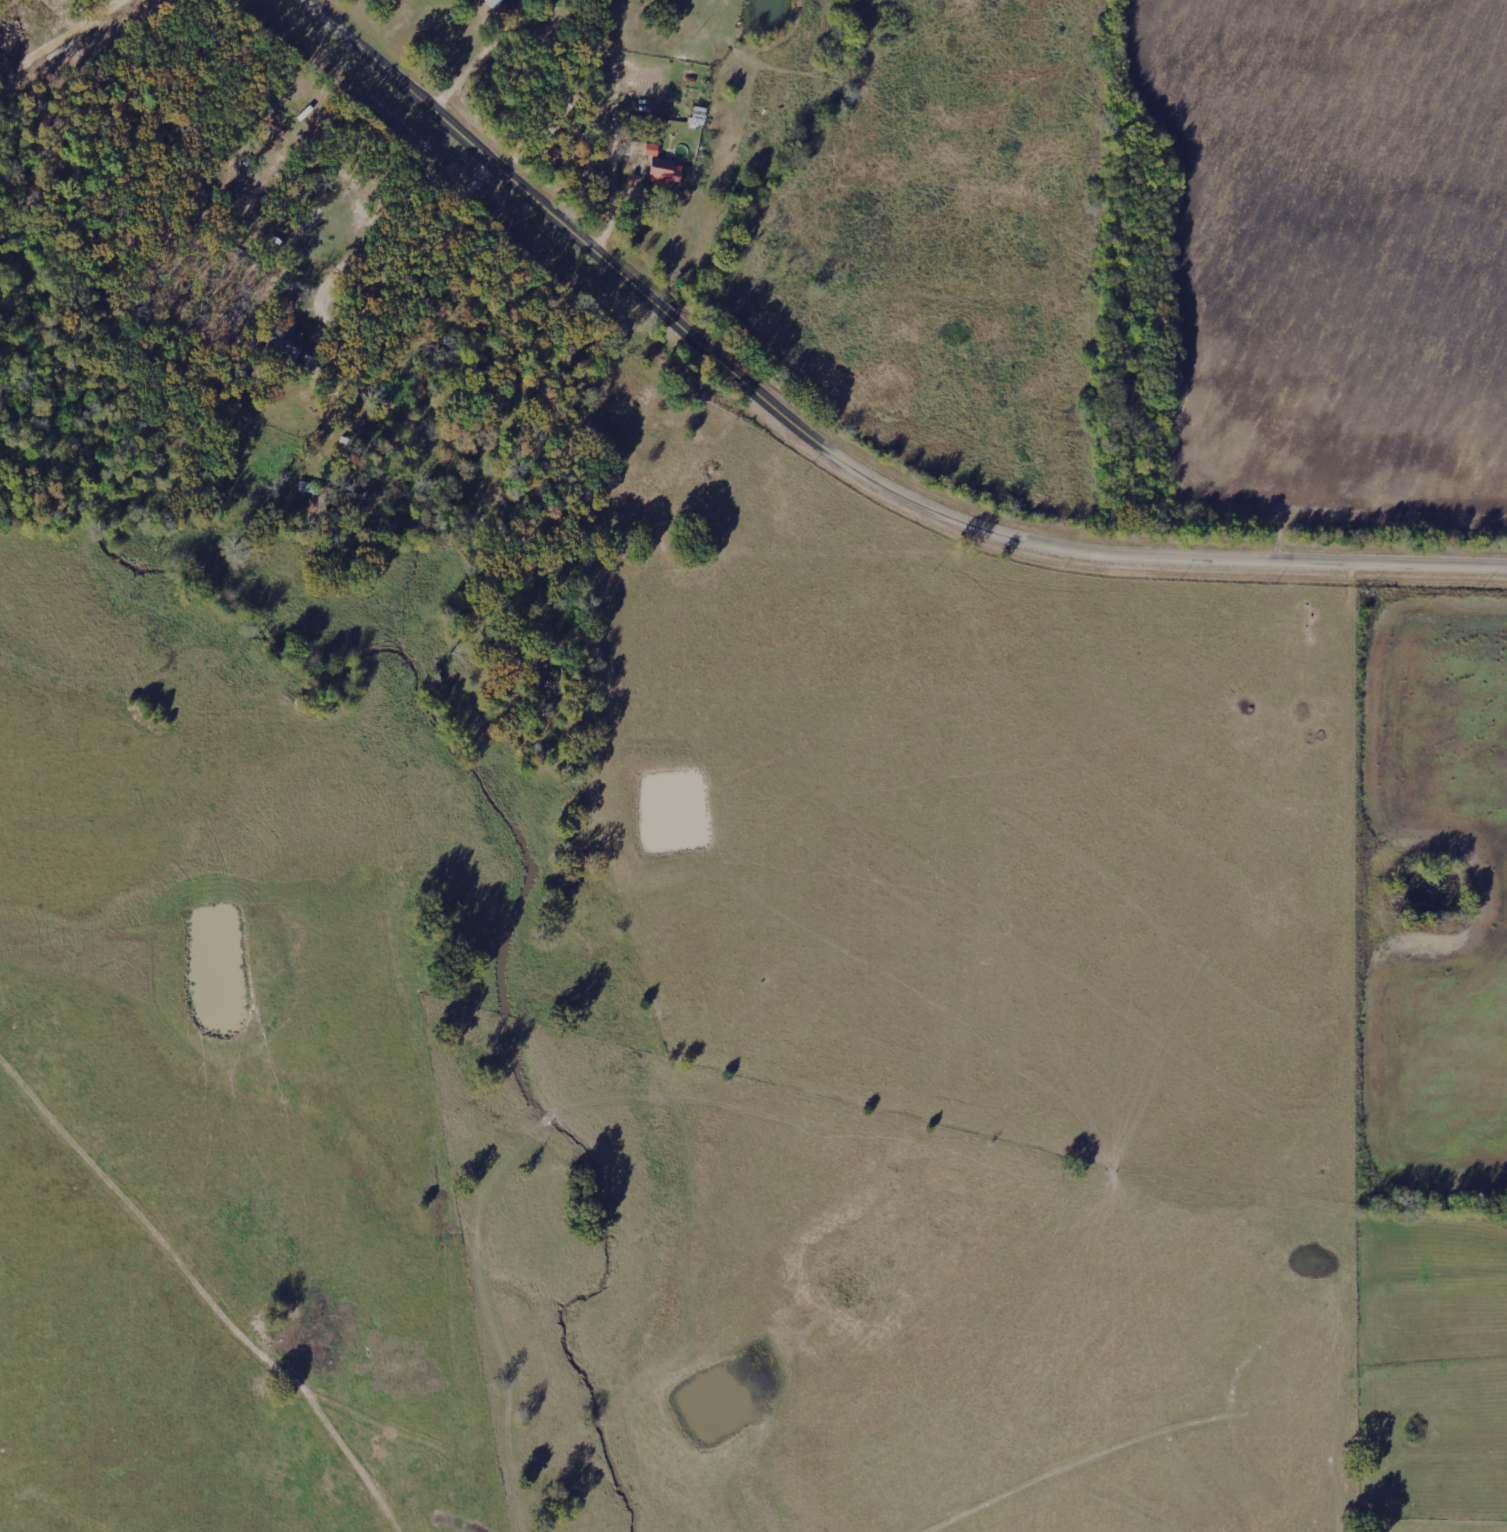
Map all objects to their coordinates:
building: (495, 3)
road: (634, 129)
building: (669, 175)
road: (361, 249)
building: (291, 349)
road: (842, 441)

